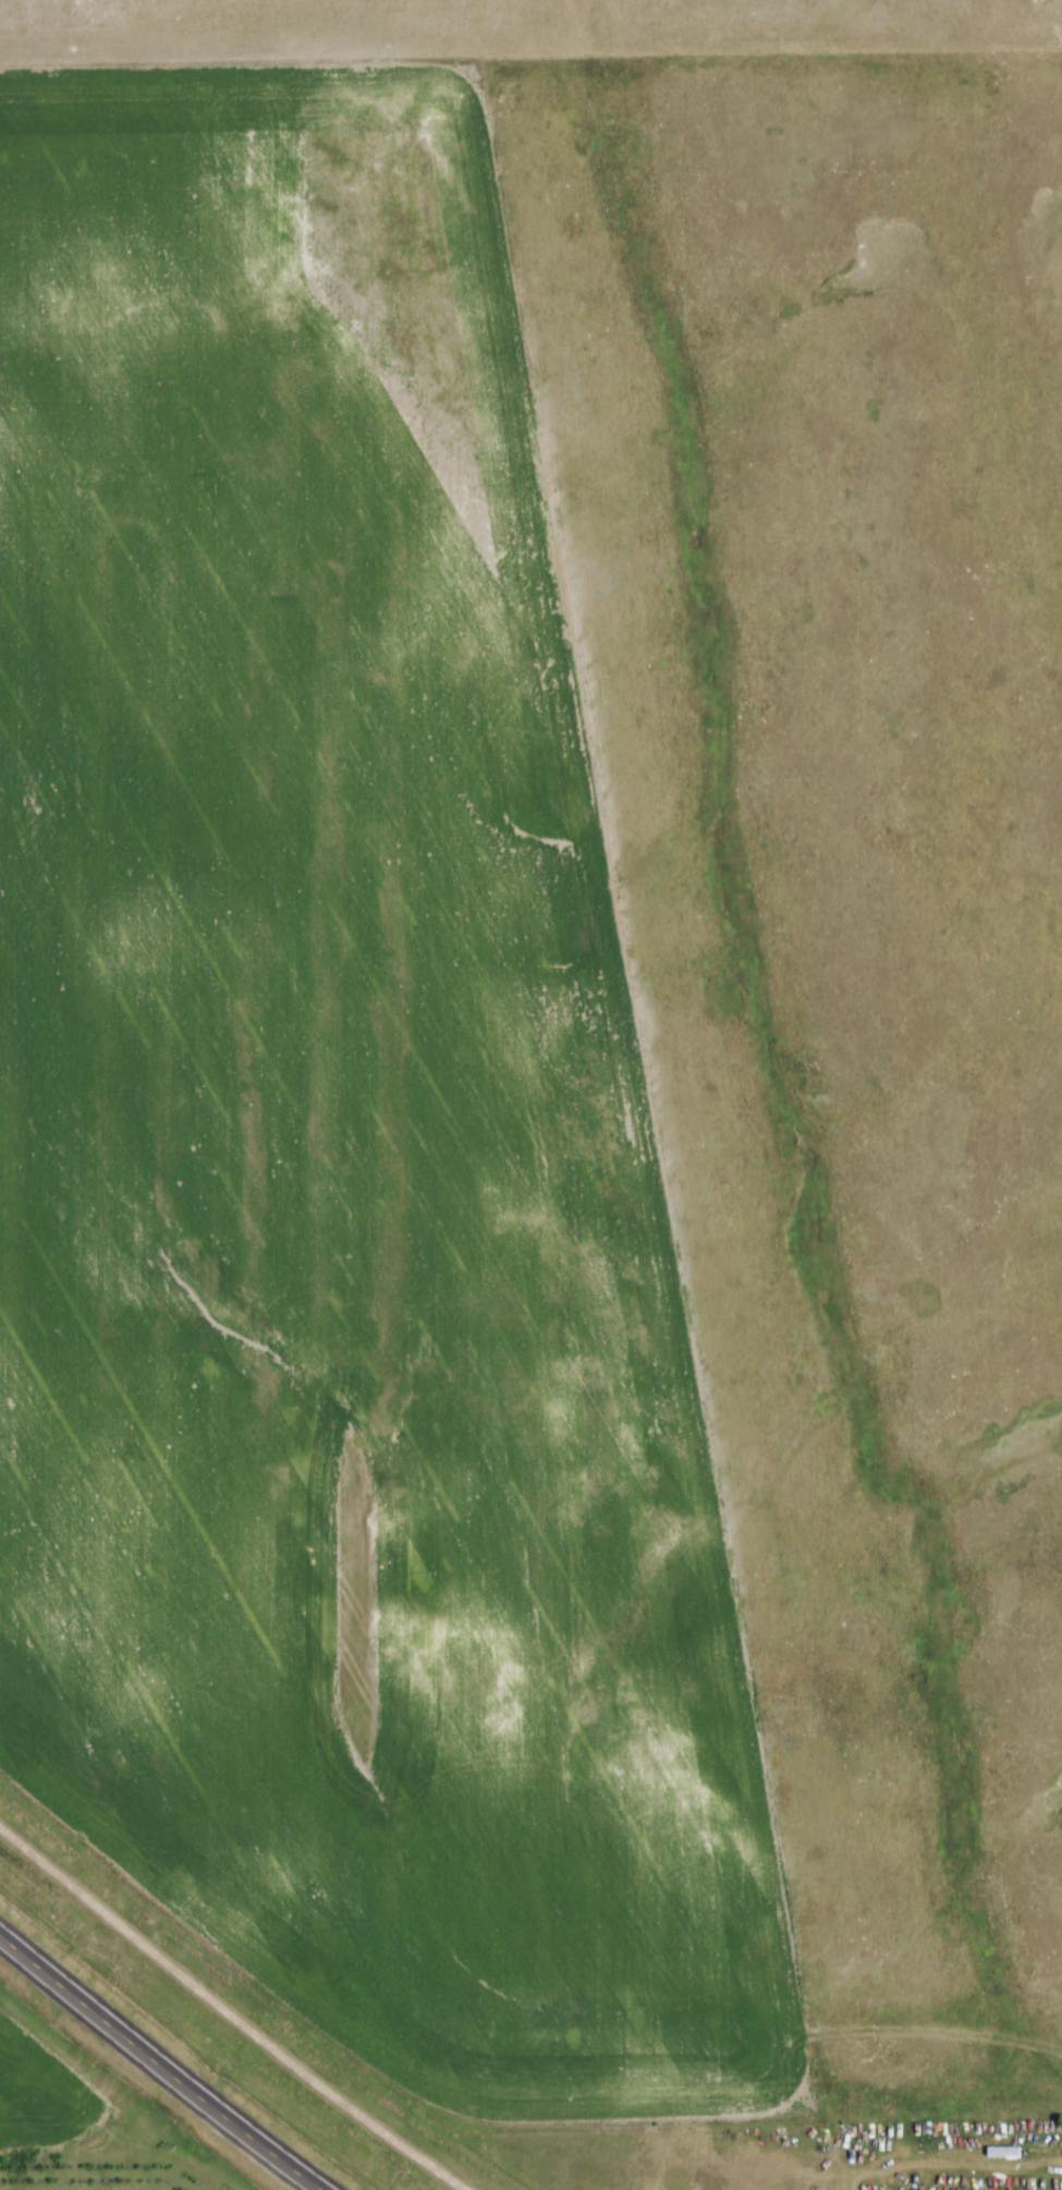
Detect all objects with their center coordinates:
road: (235, 2011)
road: (160, 2064)
building: (1001, 2153)

